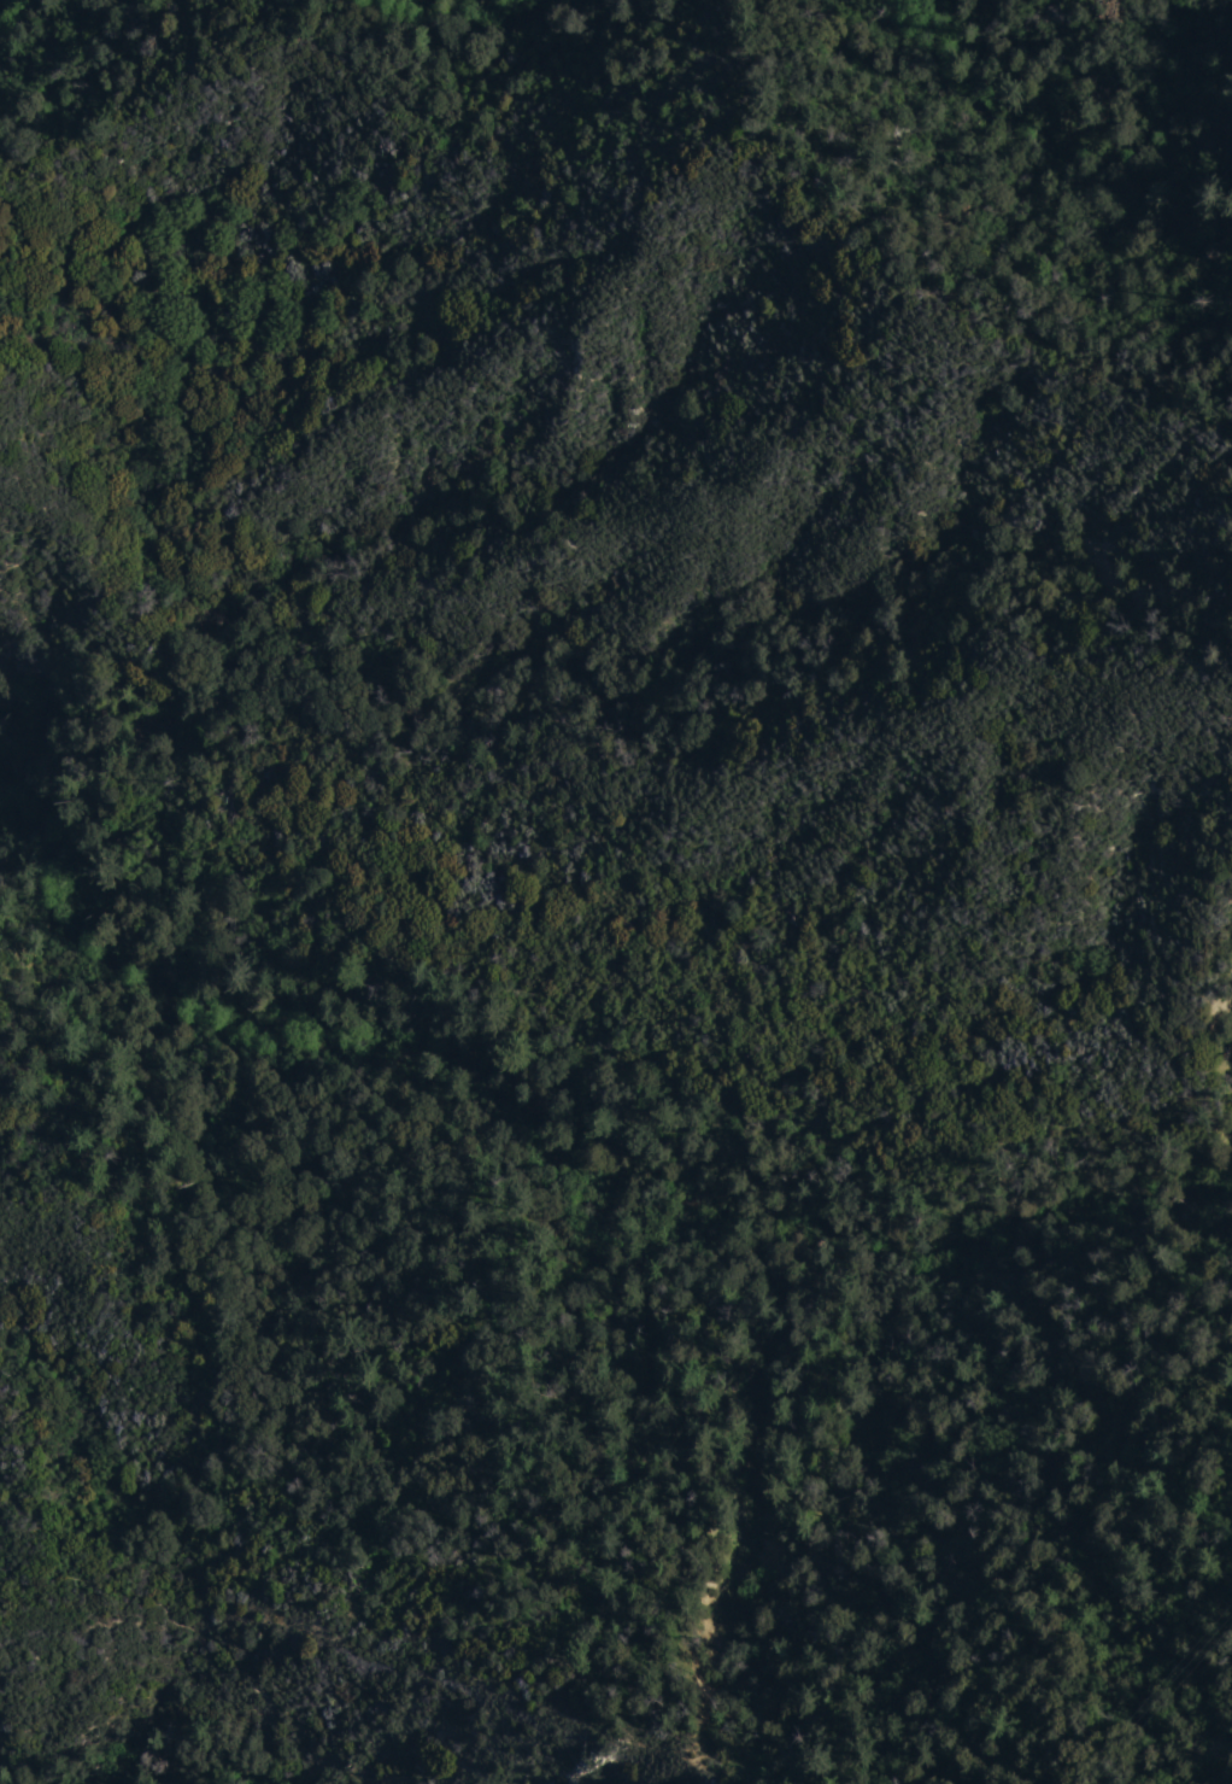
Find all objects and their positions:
road: (203, 1628)

